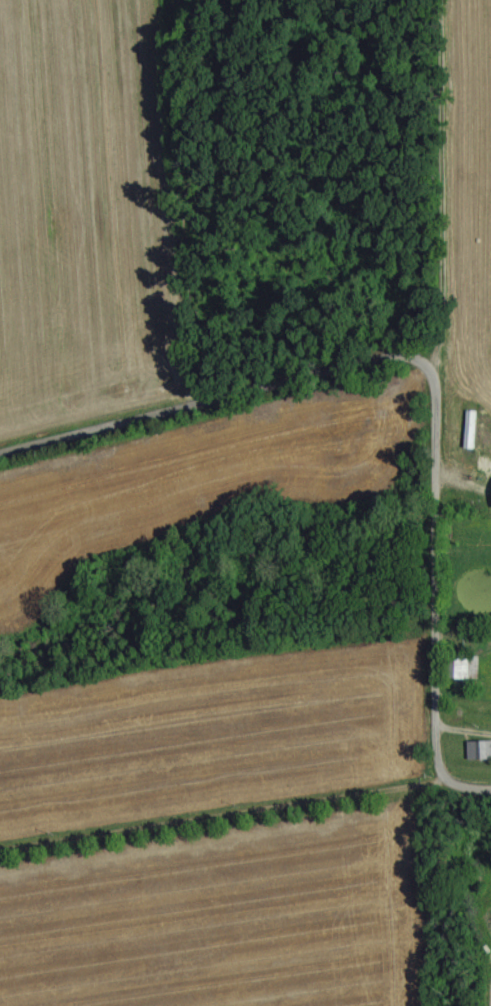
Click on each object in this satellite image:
road: (420, 362)
building: (473, 749)
road: (462, 790)
road: (216, 821)

